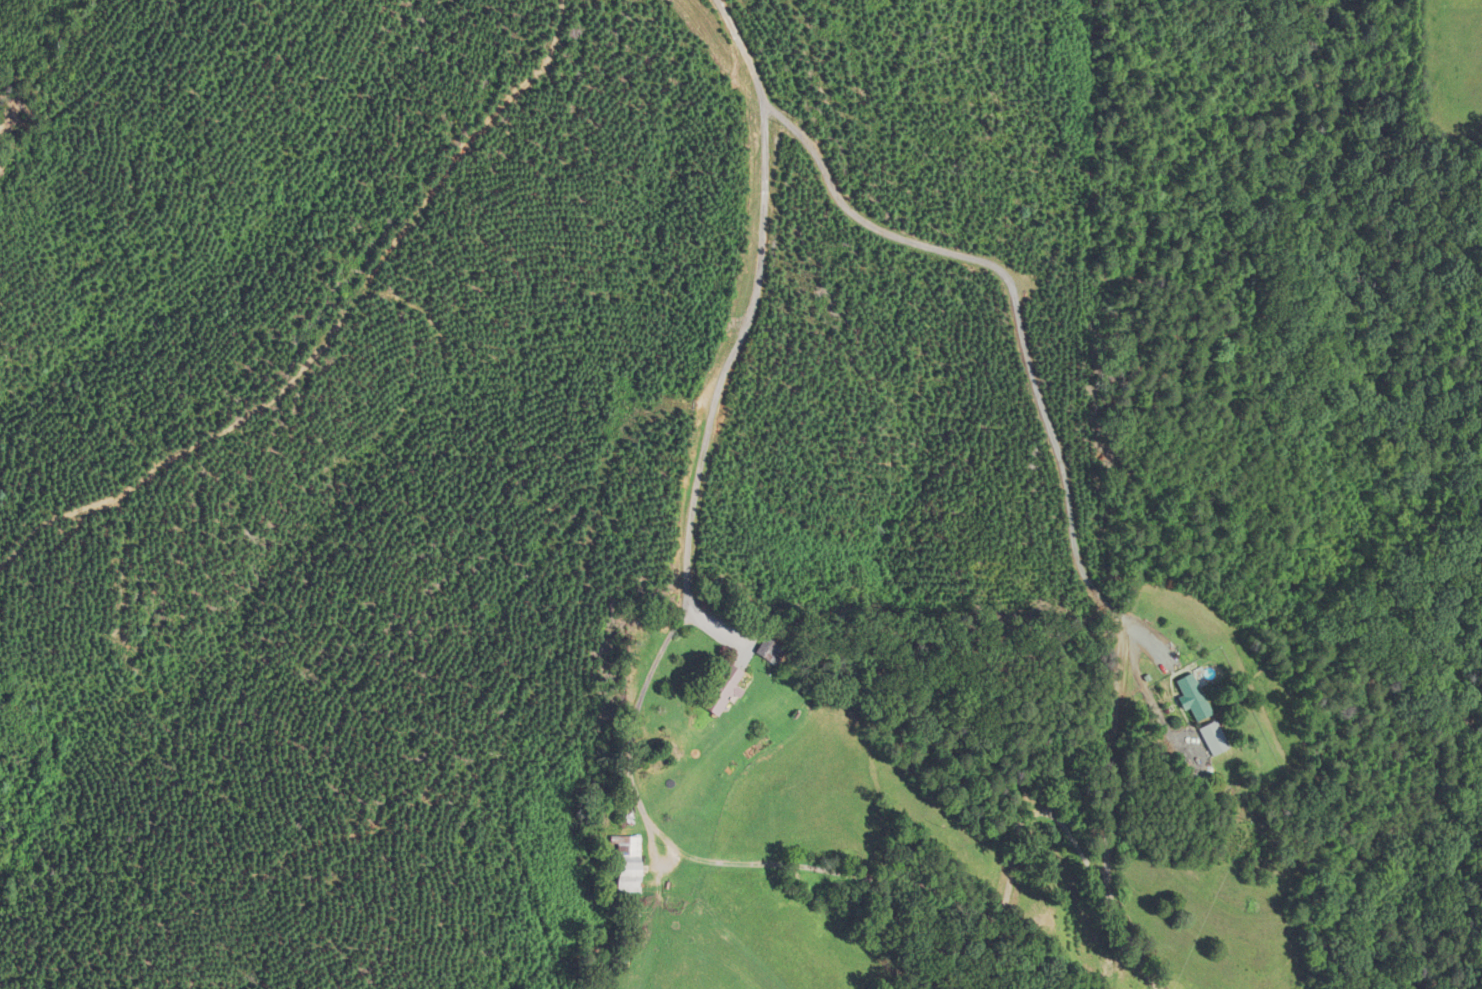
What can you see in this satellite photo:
road: (1028, 331)
road: (711, 413)
building: (765, 652)
building: (717, 689)
building: (1189, 697)
building: (1209, 738)
building: (622, 862)

